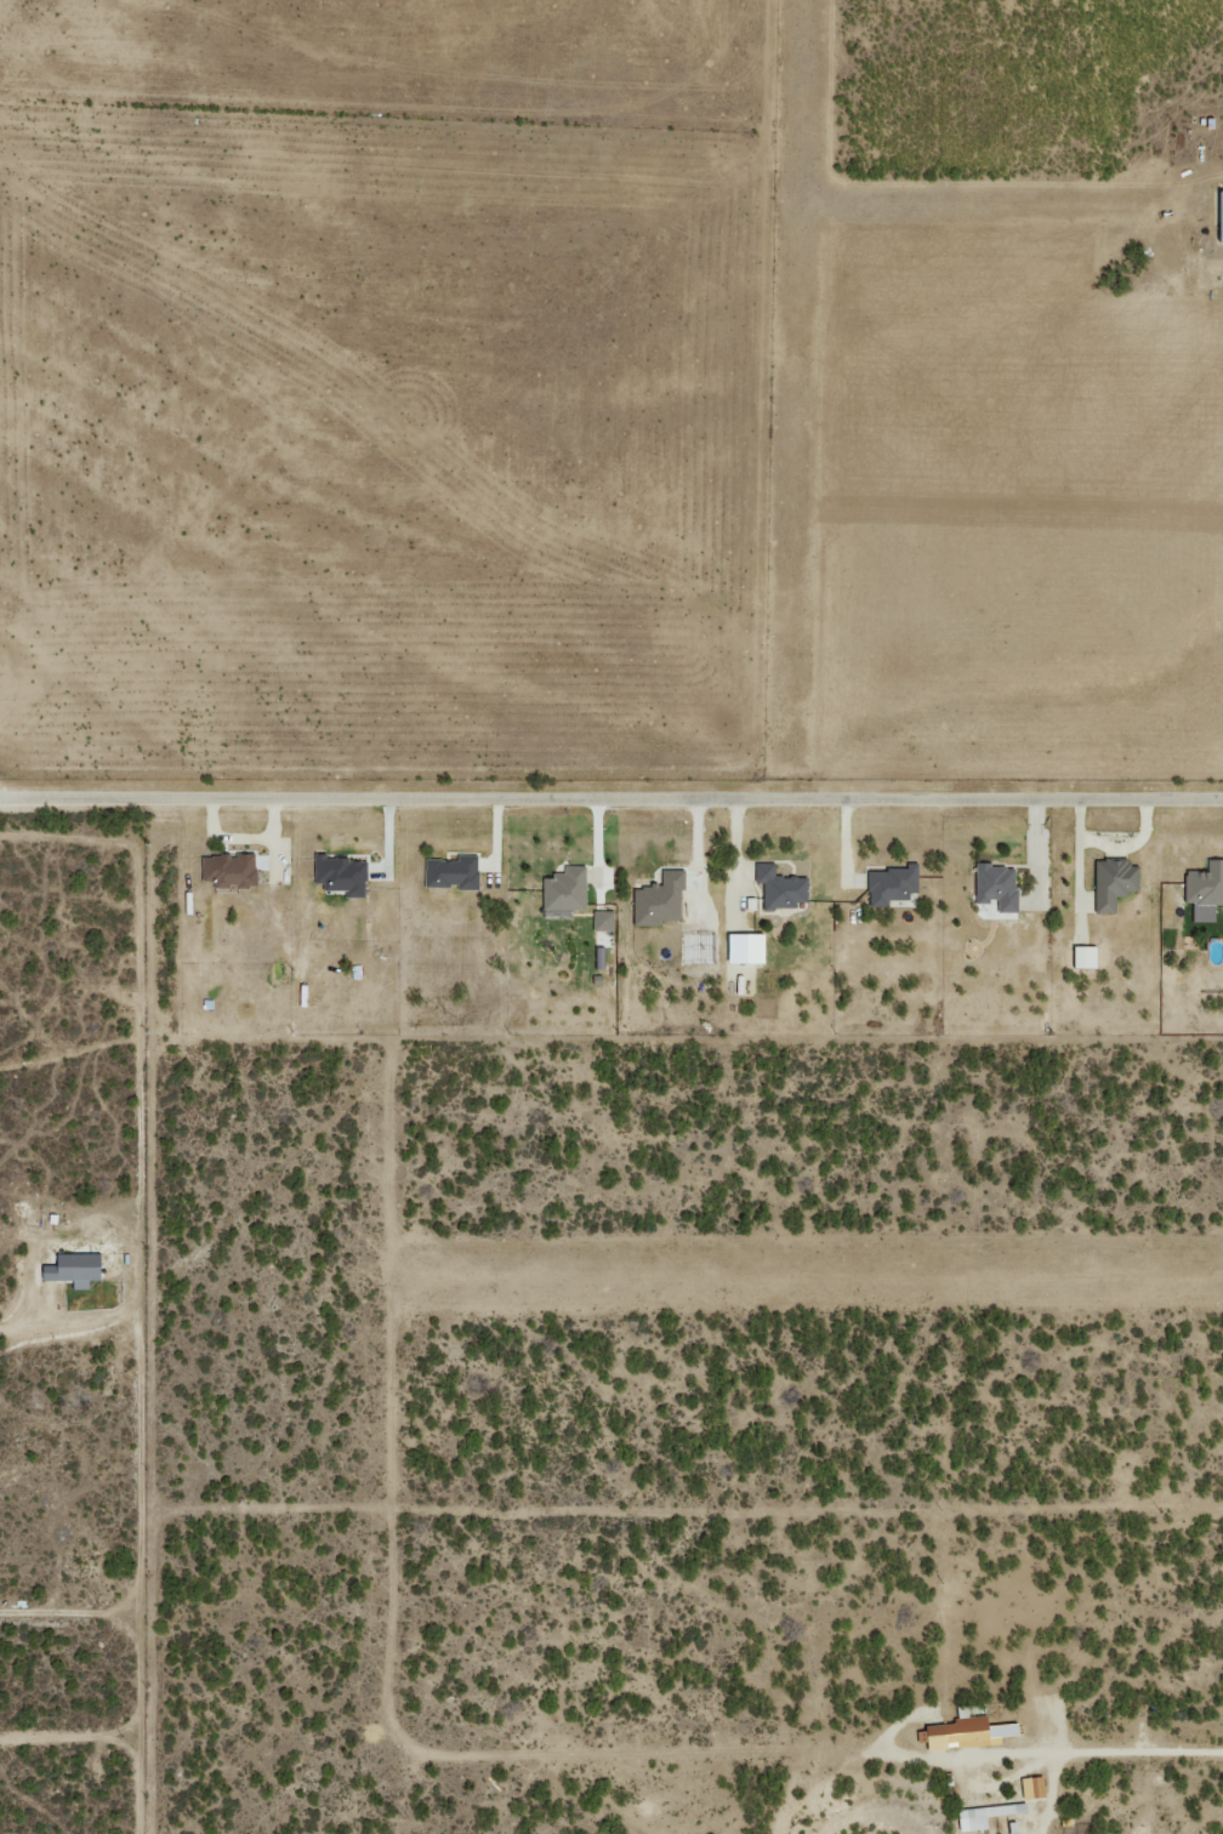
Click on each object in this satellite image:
road: (1202, 177)
airport taxiway: (990, 200)
airport hangar: (1215, 215)
building: (1215, 215)
airport runway: (793, 387)
road: (611, 797)
building: (228, 870)
building: (450, 871)
building: (339, 873)
building: (1111, 882)
building: (889, 883)
building: (1204, 883)
building: (995, 885)
building: (778, 887)
building: (563, 889)
building: (658, 899)
building: (602, 919)
building: (741, 947)
building: (1082, 956)
building: (72, 1268)
road: (136, 1662)
building: (962, 1732)
road: (1117, 1752)
building: (1031, 1787)
building: (984, 1815)

